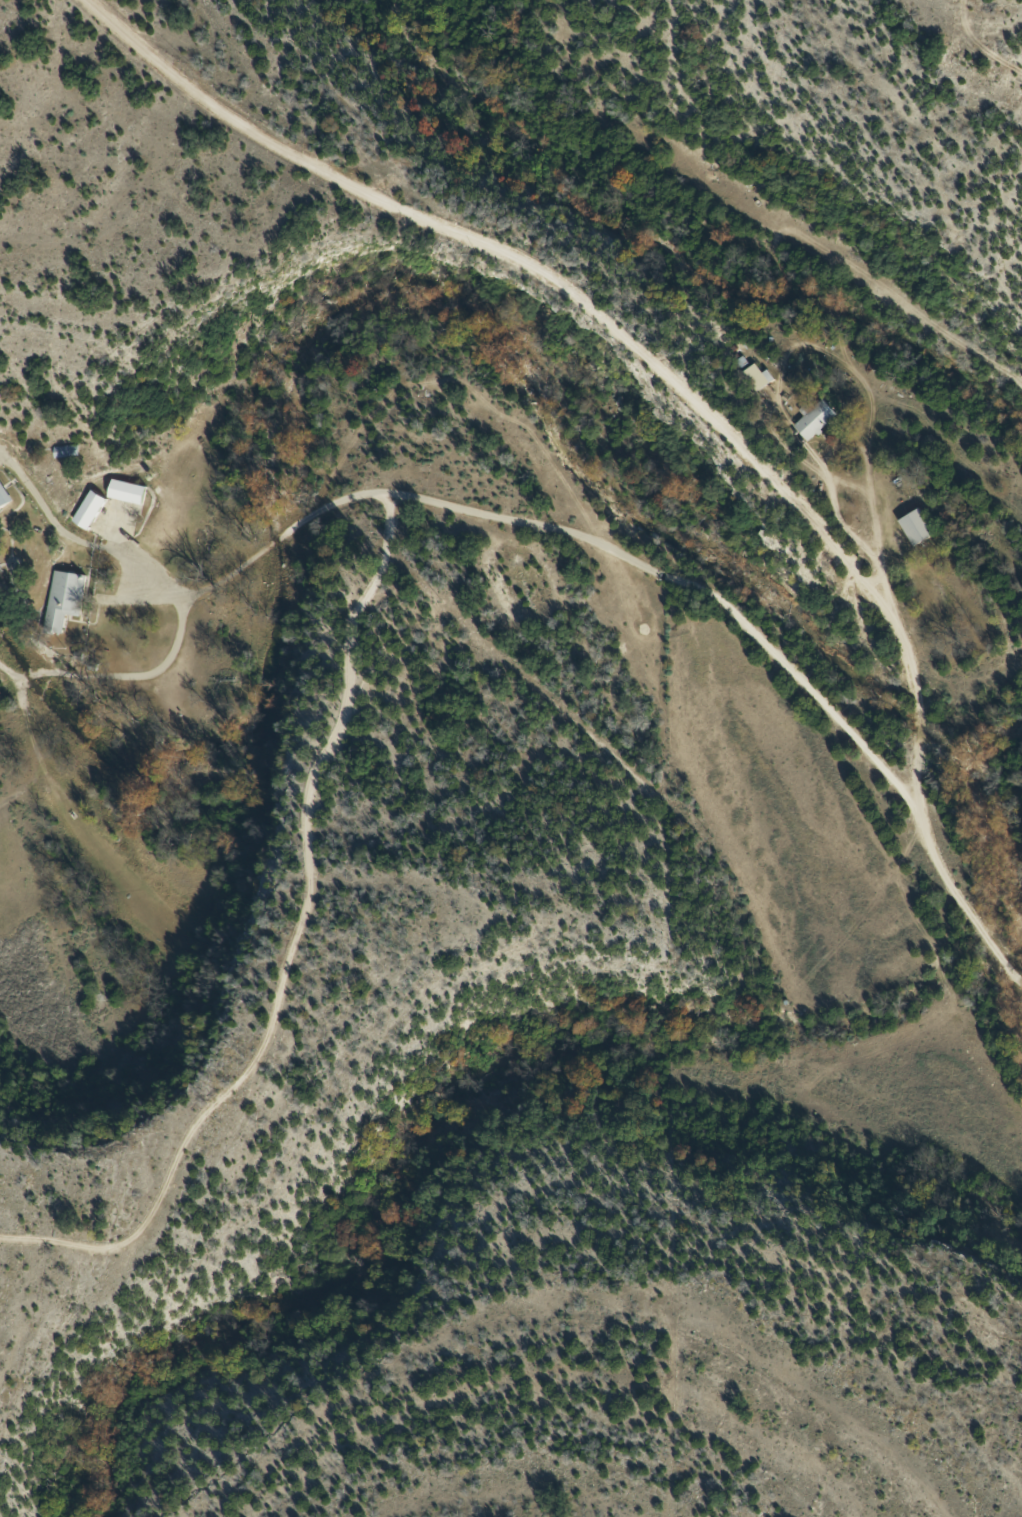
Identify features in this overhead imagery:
building: (754, 376)
road: (656, 384)
building: (809, 420)
building: (130, 492)
building: (3, 500)
building: (91, 510)
building: (910, 526)
building: (66, 599)

